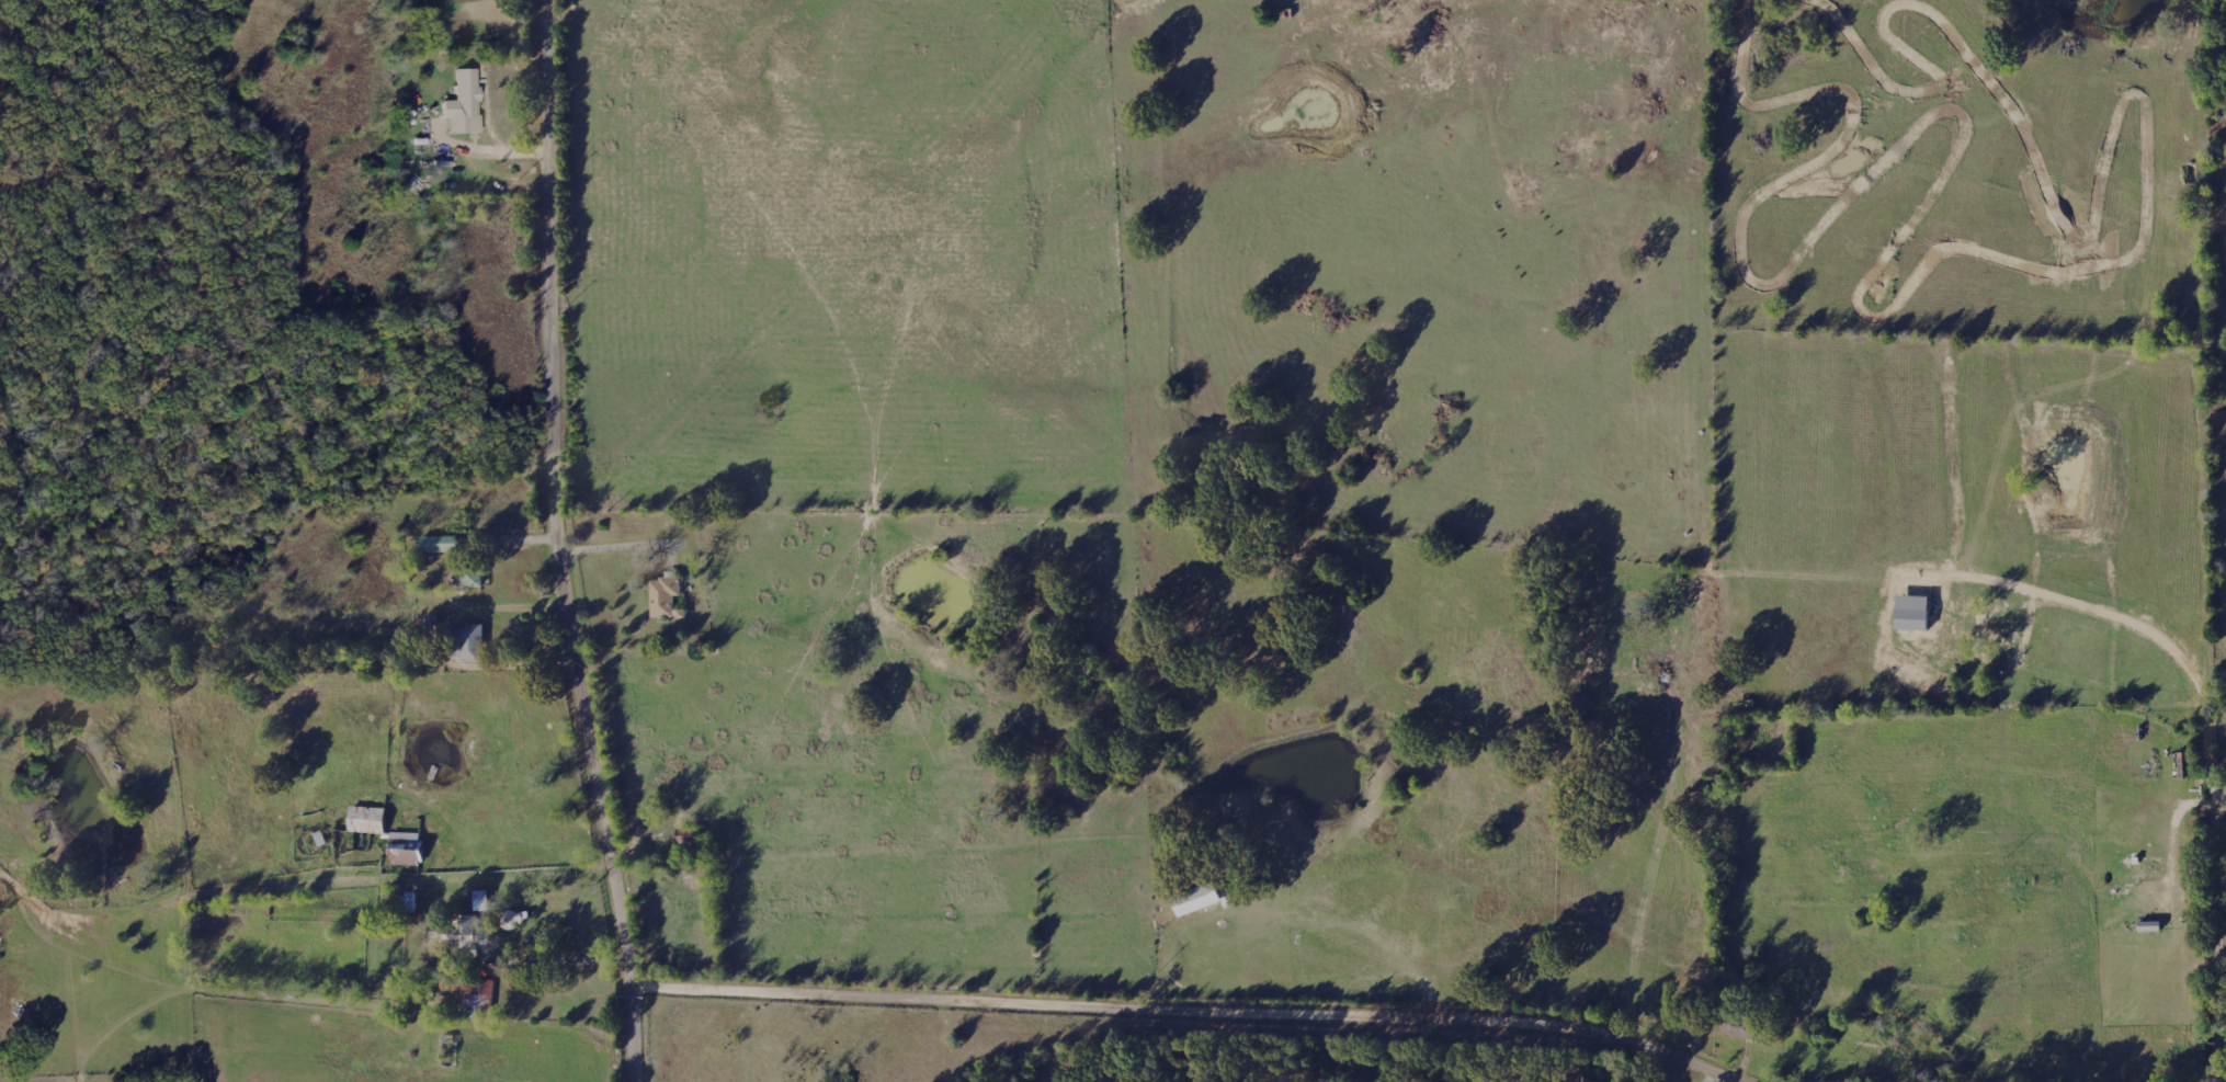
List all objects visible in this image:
building: (463, 104)
building: (439, 544)
road: (558, 544)
building: (473, 578)
building: (666, 595)
building: (469, 642)
building: (368, 820)
building: (407, 848)
road: (2223, 858)
building: (482, 900)
building: (474, 925)
road: (552, 965)
building: (477, 996)
road: (1197, 1013)
road: (2215, 1064)

